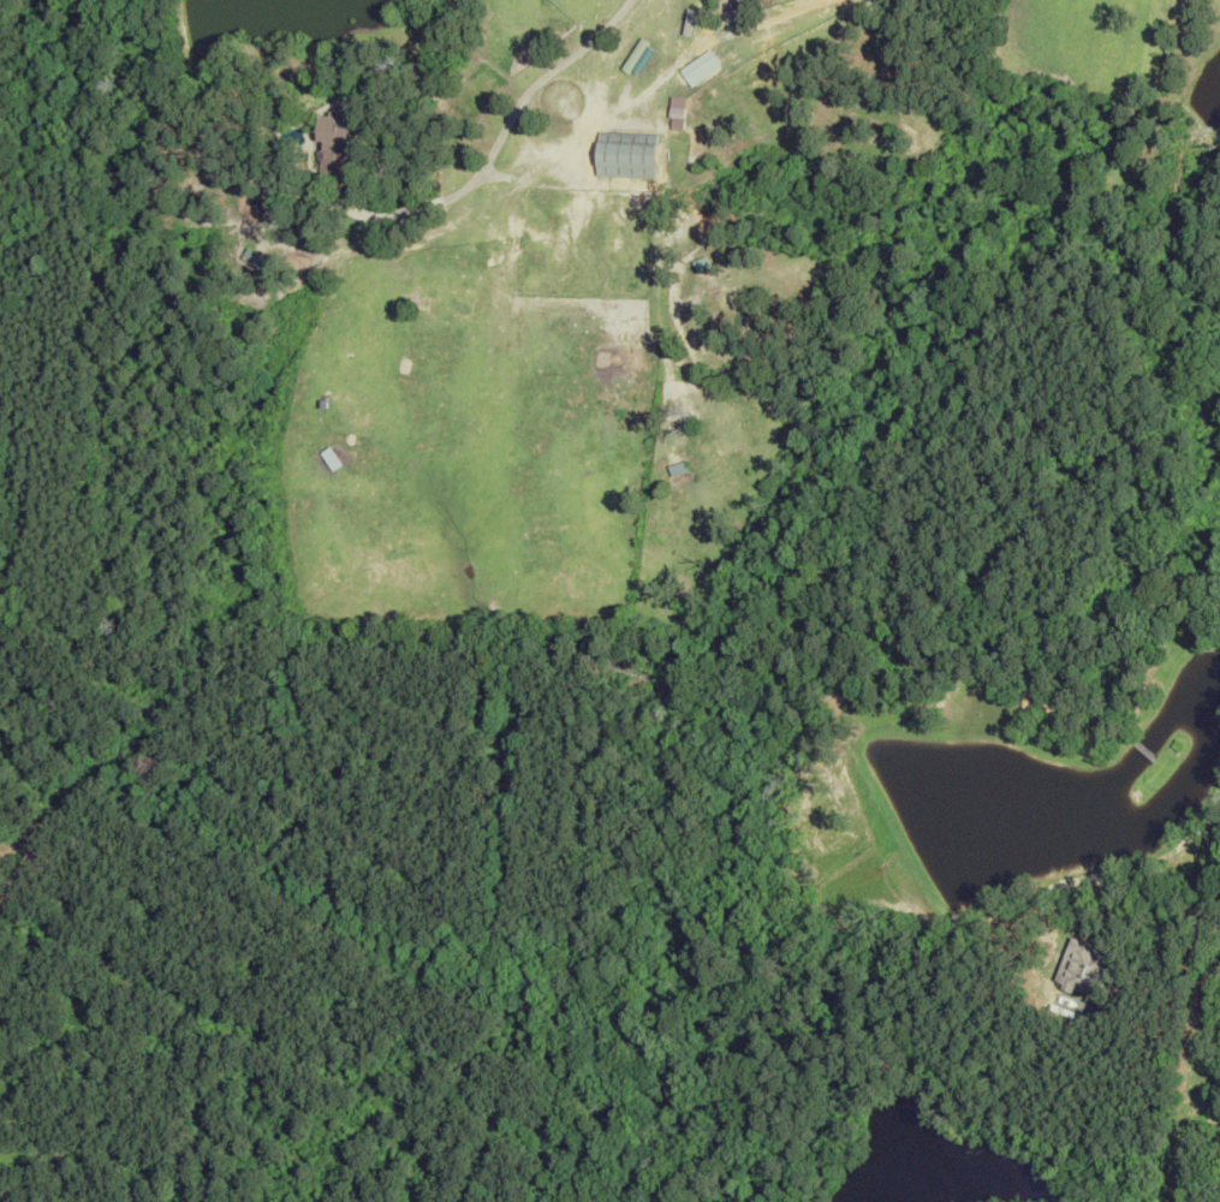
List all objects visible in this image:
building: (700, 67)
building: (335, 147)
building: (625, 154)
building: (255, 258)
building: (331, 459)
building: (1082, 968)

